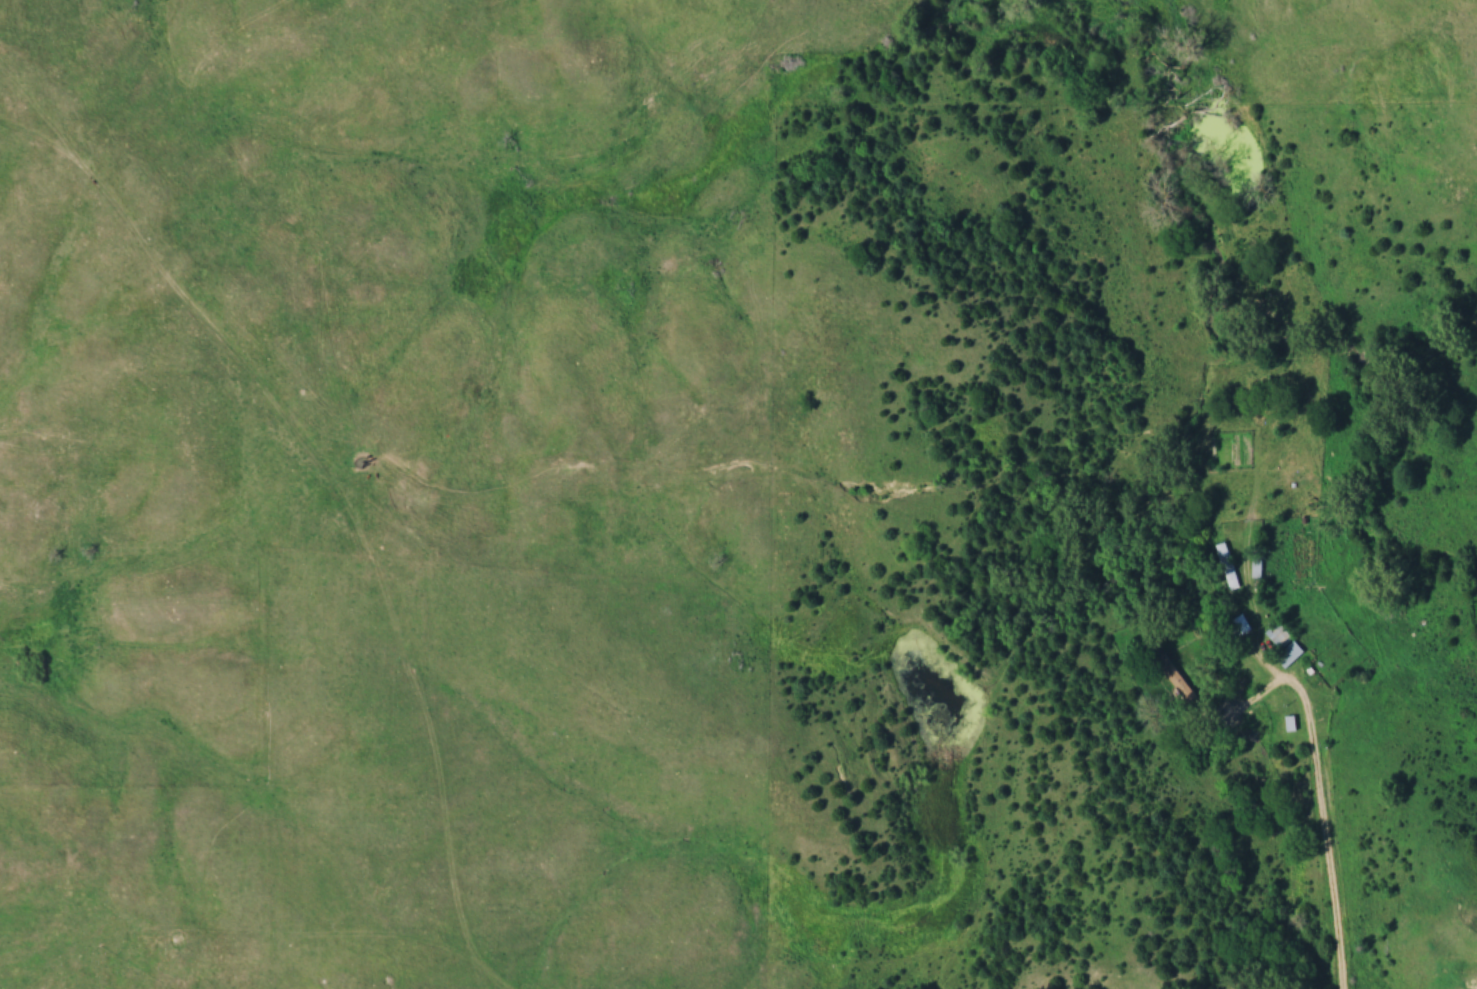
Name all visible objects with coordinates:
building: (1227, 562)
building: (1257, 564)
building: (1244, 622)
building: (1286, 644)
building: (1177, 674)
road: (1323, 805)

